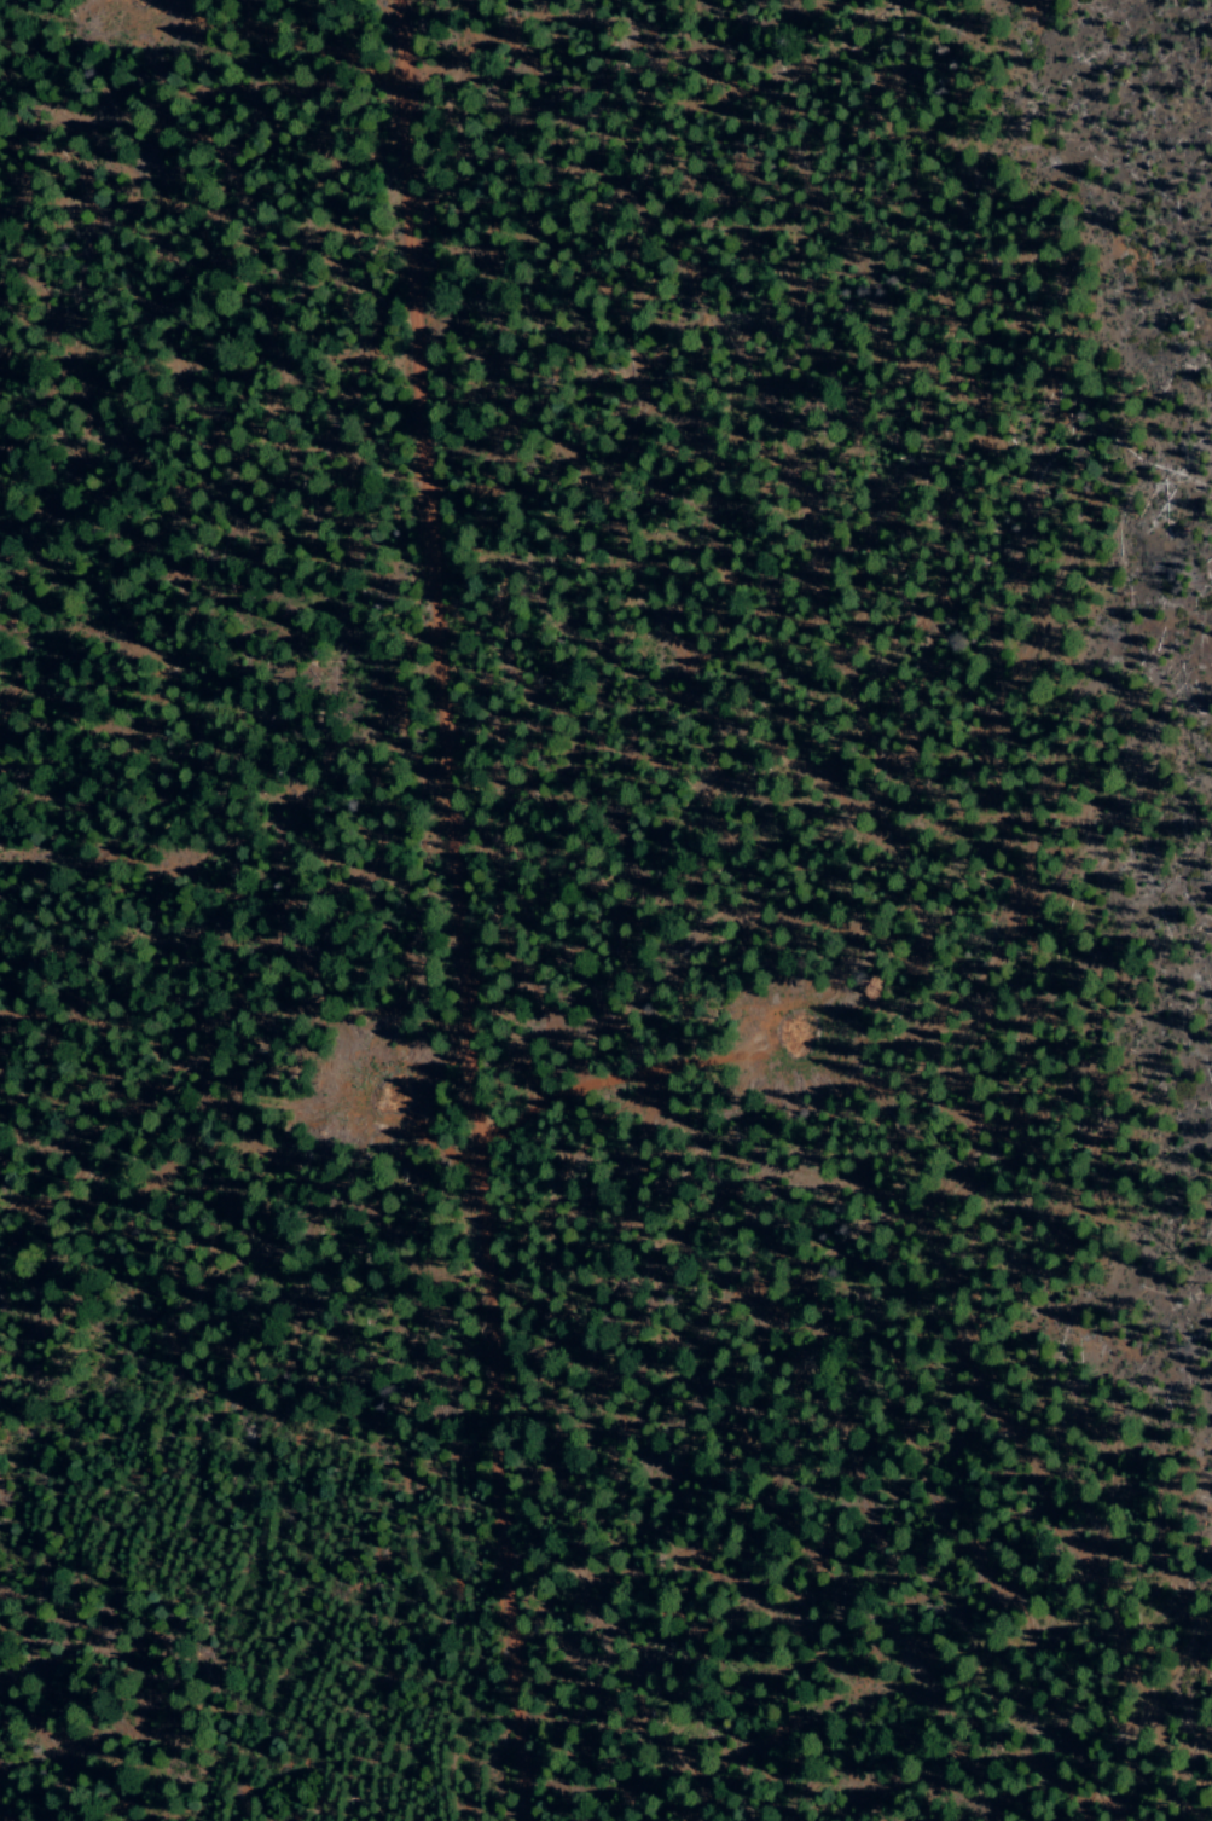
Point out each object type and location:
road: (457, 910)

